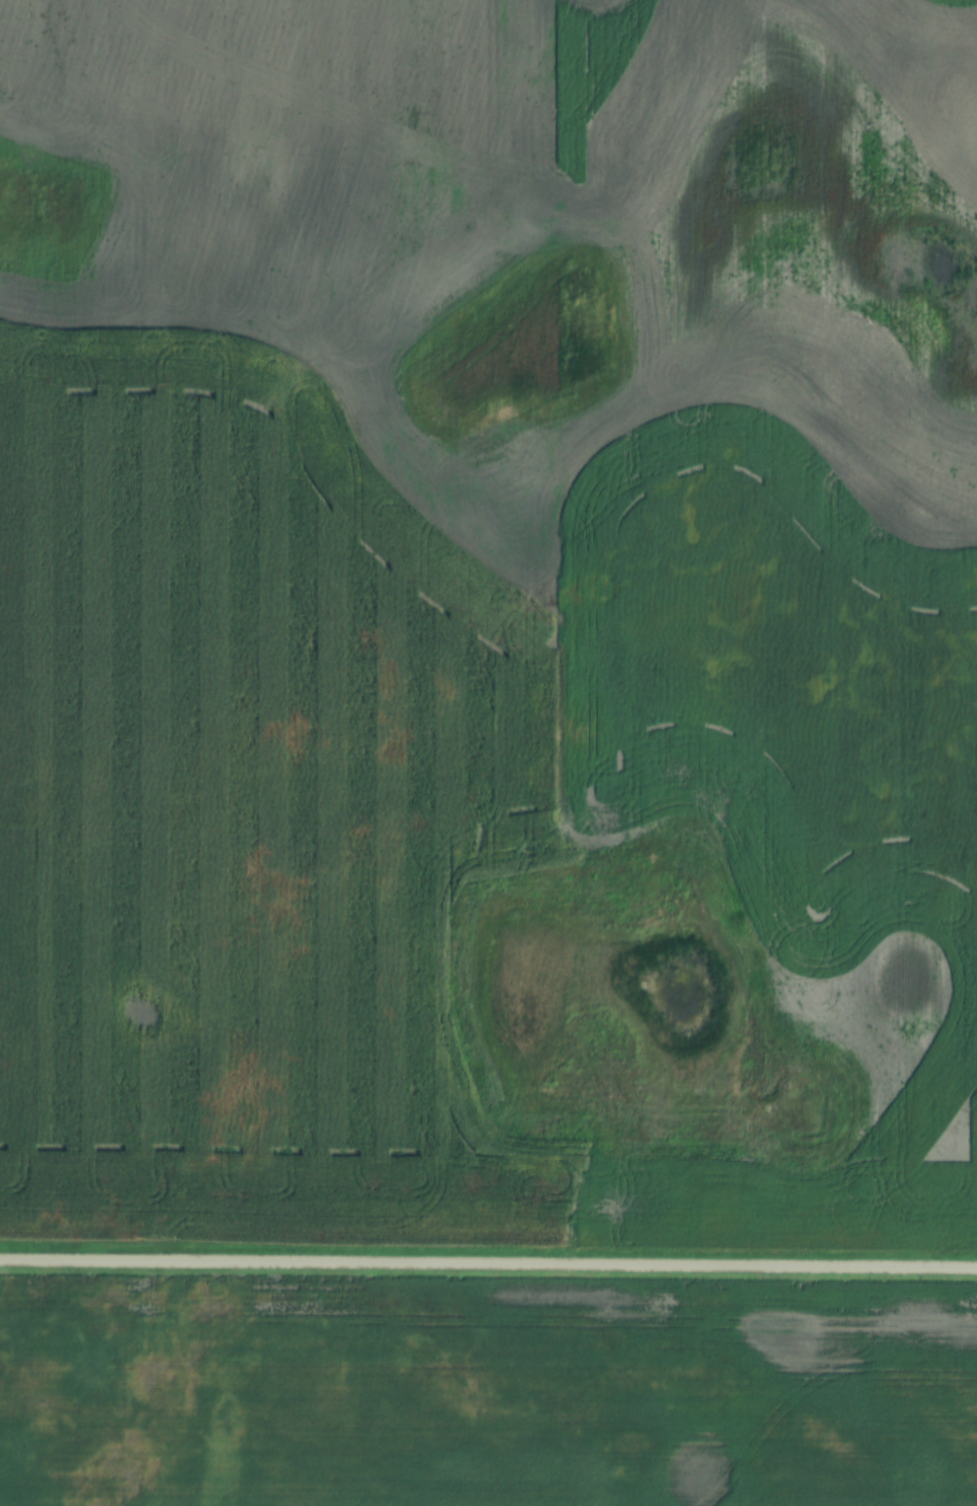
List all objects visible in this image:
road: (488, 1266)

